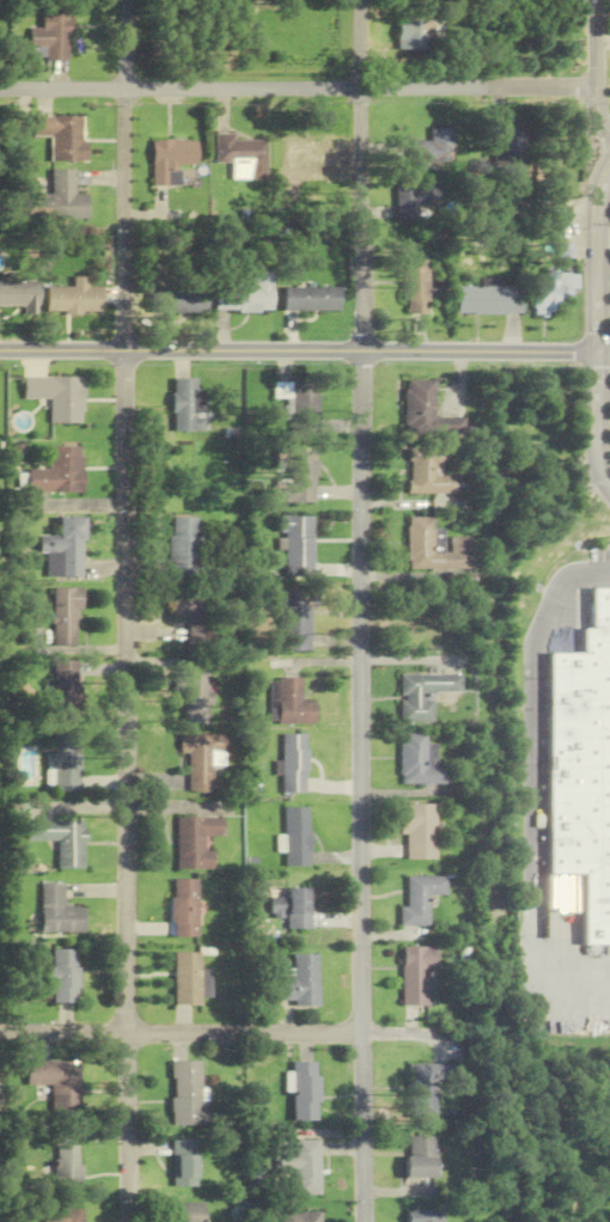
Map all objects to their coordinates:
building: (54, 33)
building: (416, 35)
road: (594, 71)
road: (297, 88)
building: (62, 138)
building: (433, 148)
building: (310, 153)
building: (510, 153)
building: (172, 158)
building: (243, 158)
building: (56, 201)
building: (414, 201)
road: (602, 243)
road: (594, 261)
building: (414, 285)
building: (551, 291)
building: (248, 292)
building: (22, 297)
building: (74, 299)
building: (310, 299)
building: (488, 299)
building: (178, 301)
road: (298, 352)
road: (603, 352)
building: (59, 397)
building: (188, 405)
building: (299, 405)
building: (426, 413)
road: (597, 420)
building: (60, 472)
building: (428, 472)
building: (293, 476)
building: (421, 545)
building: (182, 546)
building: (297, 546)
building: (65, 550)
road: (598, 573)
road: (126, 610)
road: (359, 611)
building: (65, 617)
building: (194, 617)
building: (294, 622)
building: (63, 682)
building: (423, 695)
building: (196, 699)
building: (293, 704)
building: (201, 760)
building: (419, 762)
building: (63, 764)
building: (294, 765)
building: (582, 768)
building: (419, 831)
building: (297, 837)
building: (61, 841)
building: (196, 842)
building: (421, 899)
building: (277, 908)
building: (184, 909)
building: (298, 909)
building: (59, 912)
building: (416, 974)
building: (63, 977)
building: (187, 979)
building: (299, 982)
road: (224, 1033)
building: (57, 1084)
building: (423, 1089)
building: (304, 1092)
building: (185, 1094)
building: (419, 1157)
building: (183, 1165)
building: (301, 1167)
building: (65, 1173)
building: (188, 1212)
building: (62, 1215)
building: (425, 1216)
building: (299, 1217)

